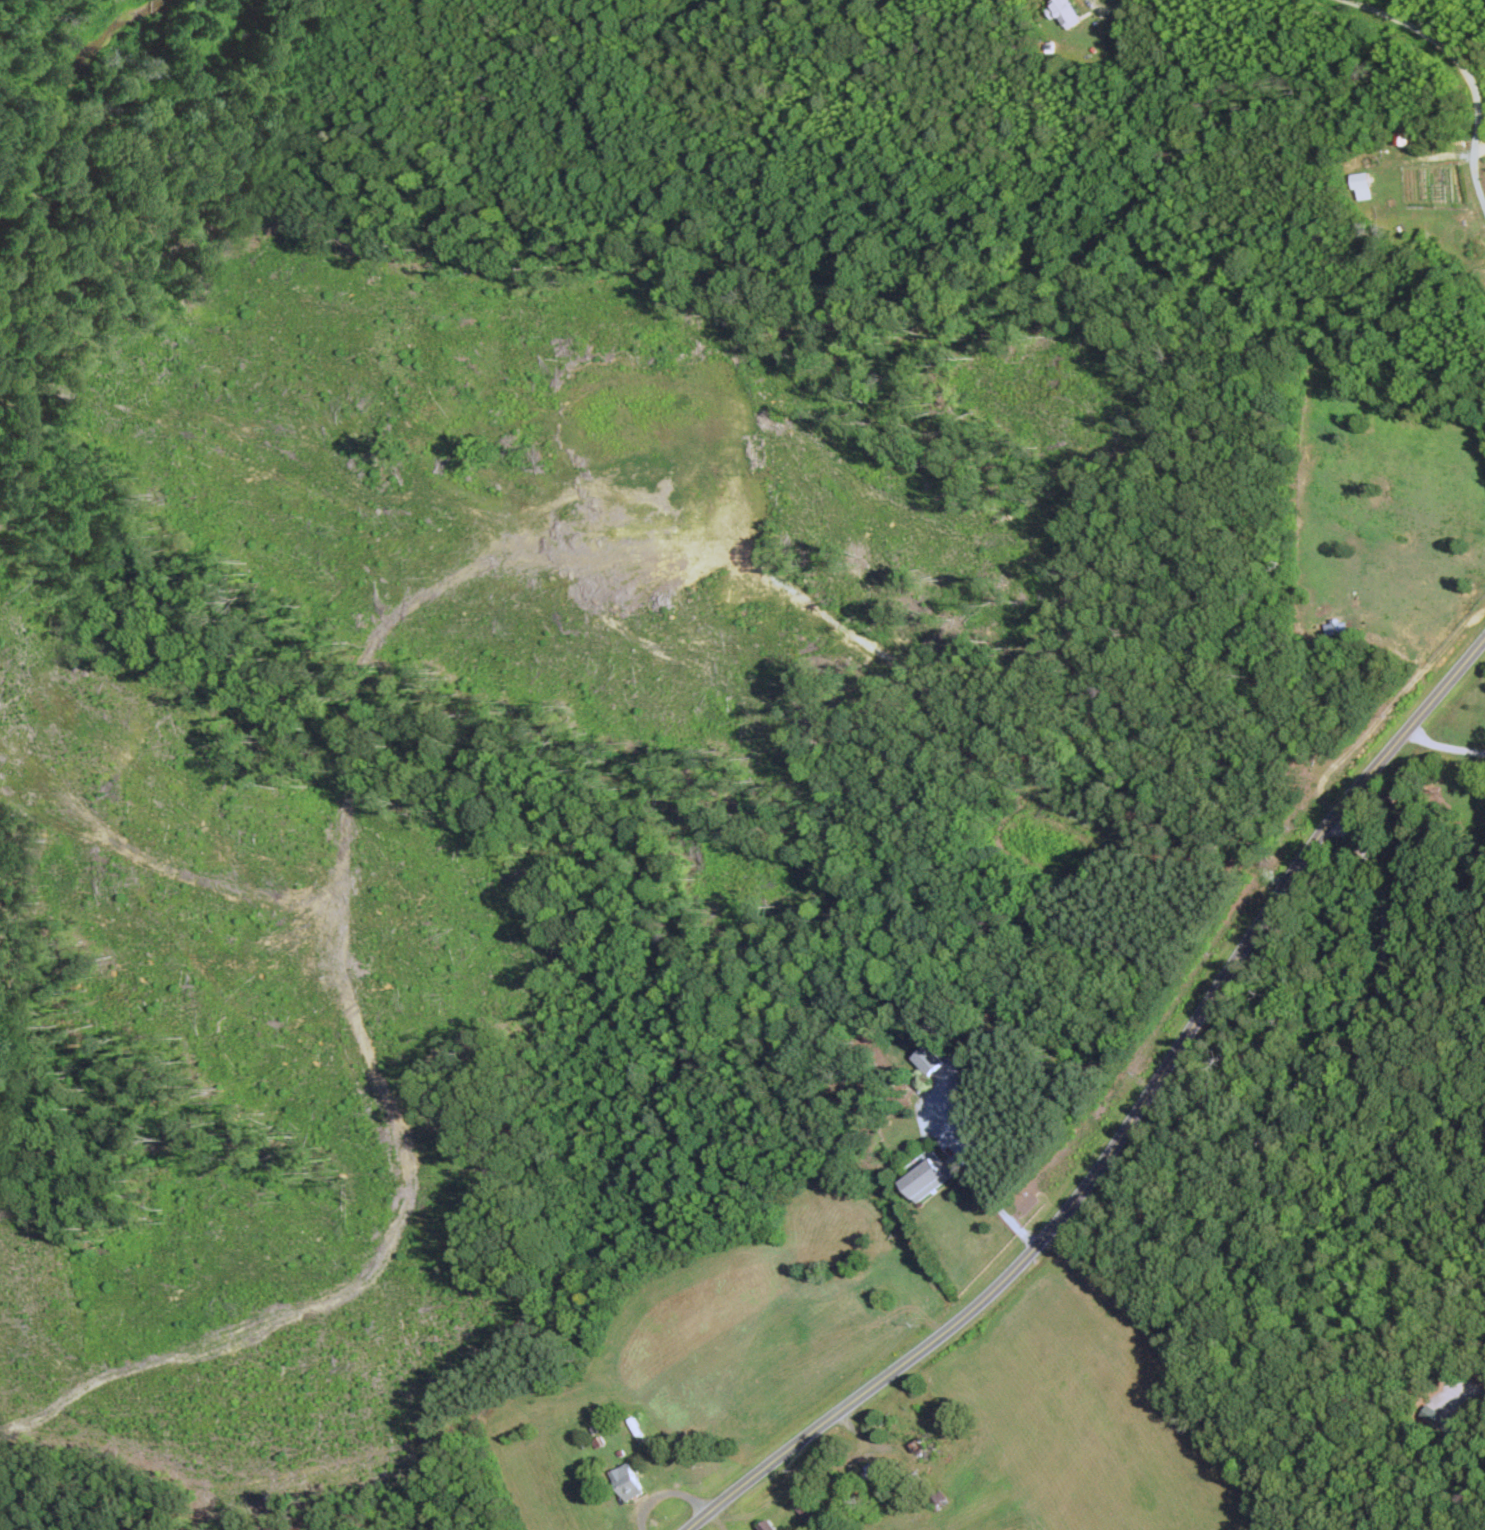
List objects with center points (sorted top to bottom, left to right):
building: (1103, 25)
road: (1464, 66)
road: (1480, 154)
road: (1444, 744)
building: (927, 1059)
road: (1383, 1111)
road: (1128, 1124)
road: (972, 1176)
building: (926, 1178)
building: (921, 1443)
building: (626, 1483)
building: (766, 1527)

